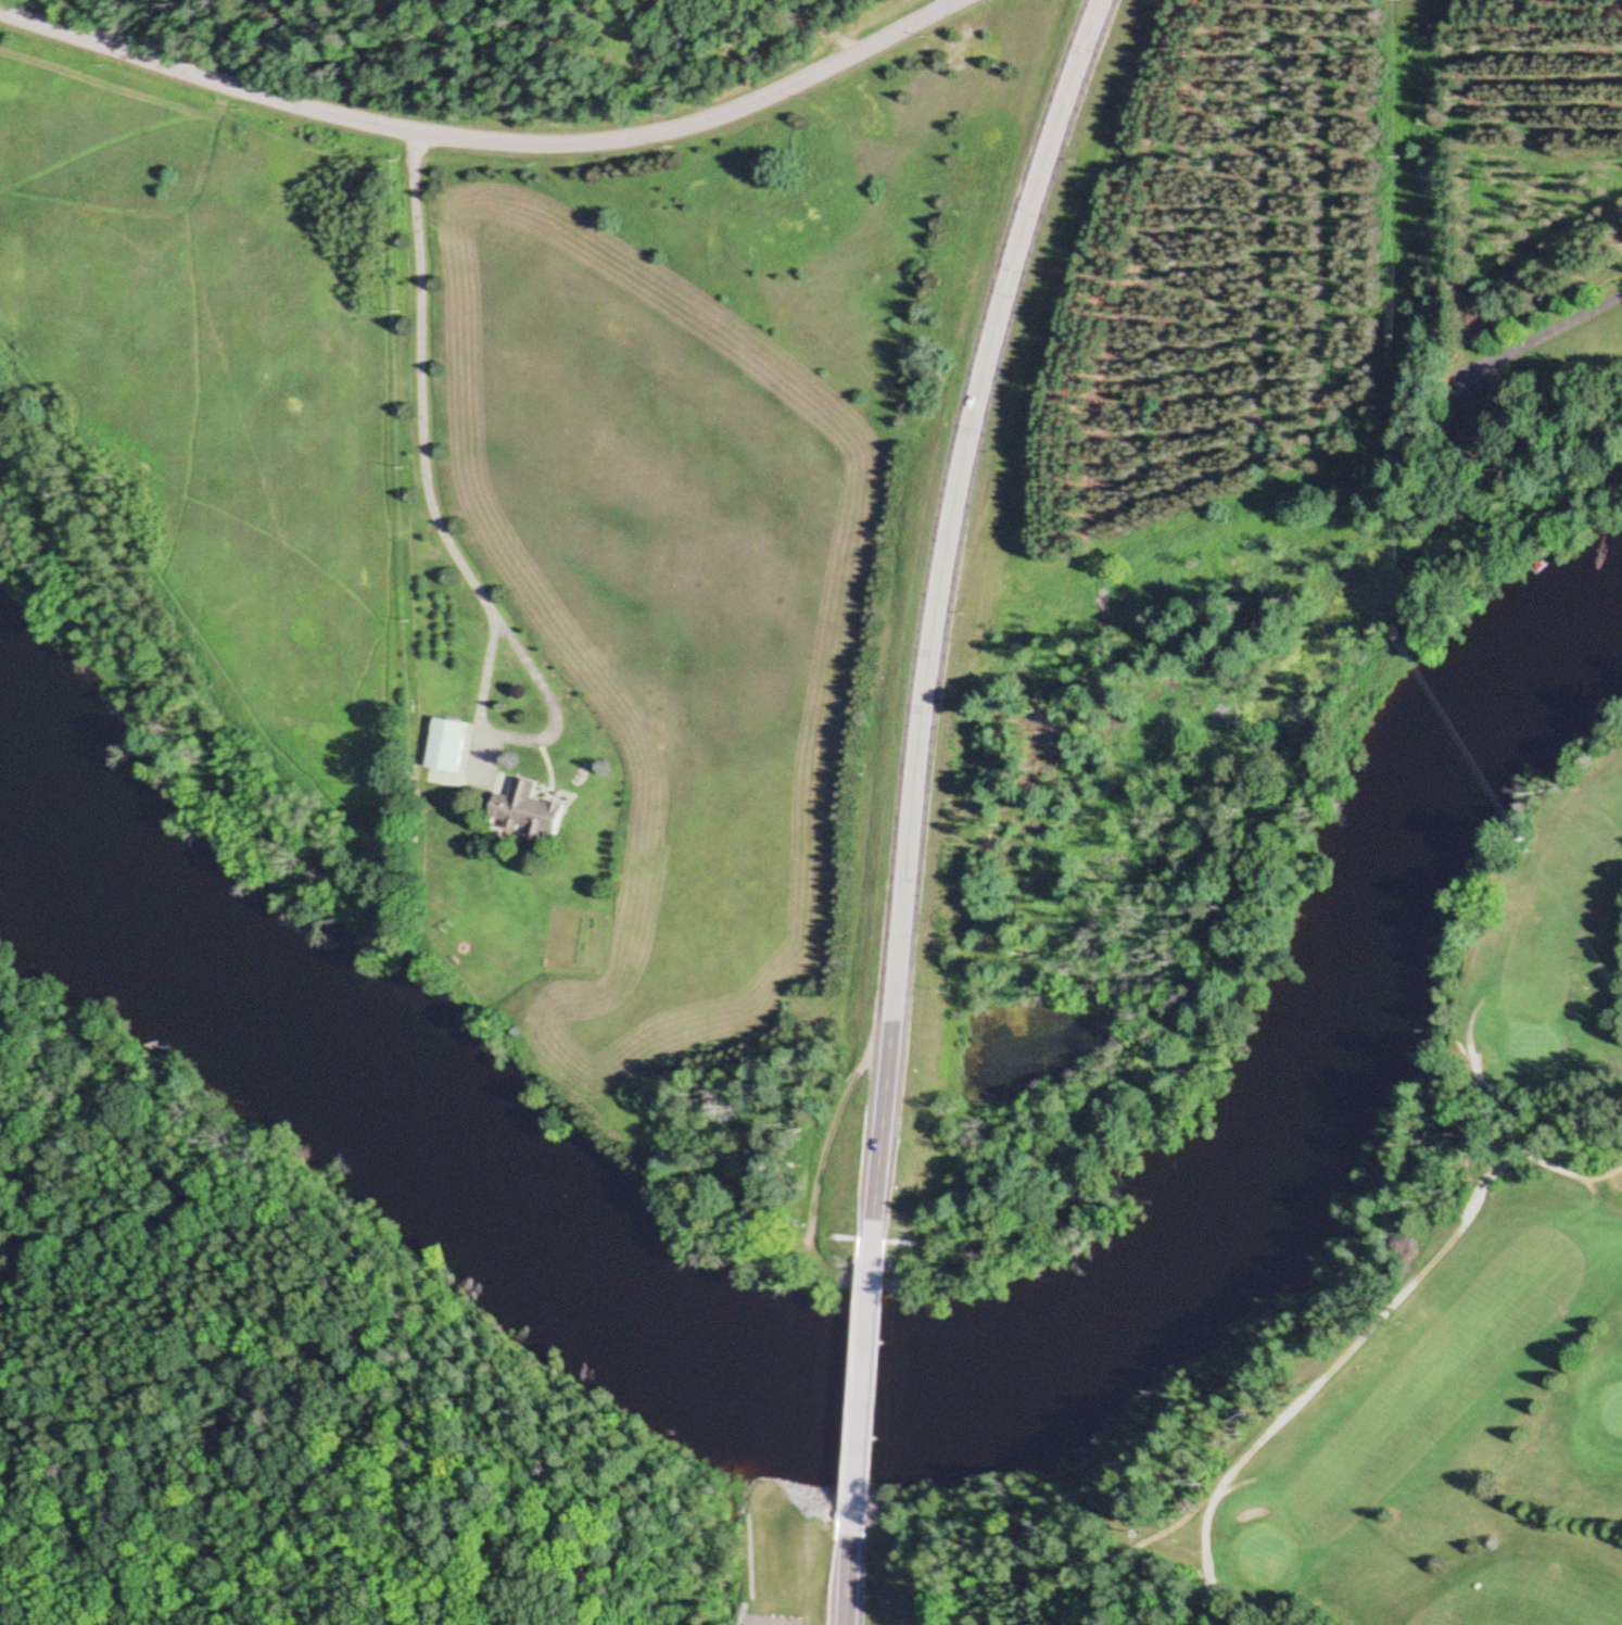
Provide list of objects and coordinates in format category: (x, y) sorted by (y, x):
road: (492, 147)
building: (1478, 324)
road: (938, 621)
building: (449, 754)
building: (529, 811)
park: (1449, 1325)
river: (863, 1381)
road: (858, 1401)
park: (405, 1432)
road: (842, 1583)

